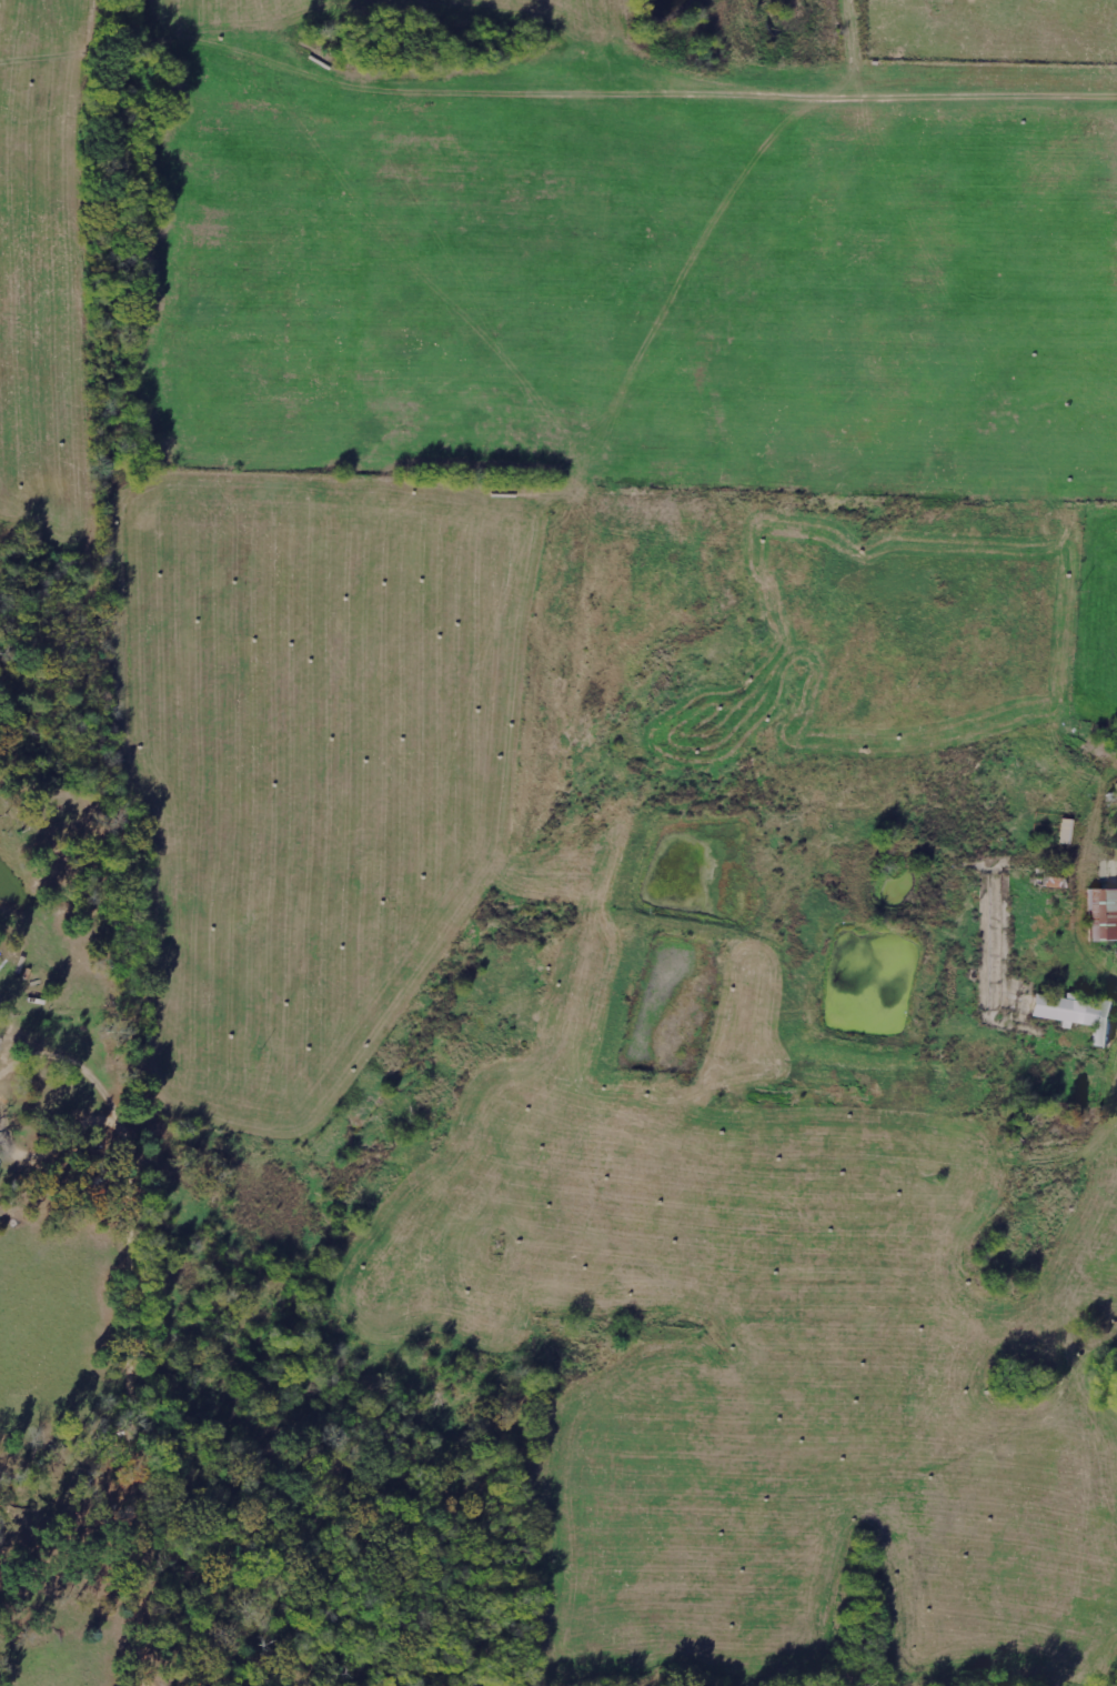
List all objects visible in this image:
road: (922, 580)
building: (1104, 914)
building: (1079, 1015)
road: (115, 1565)

